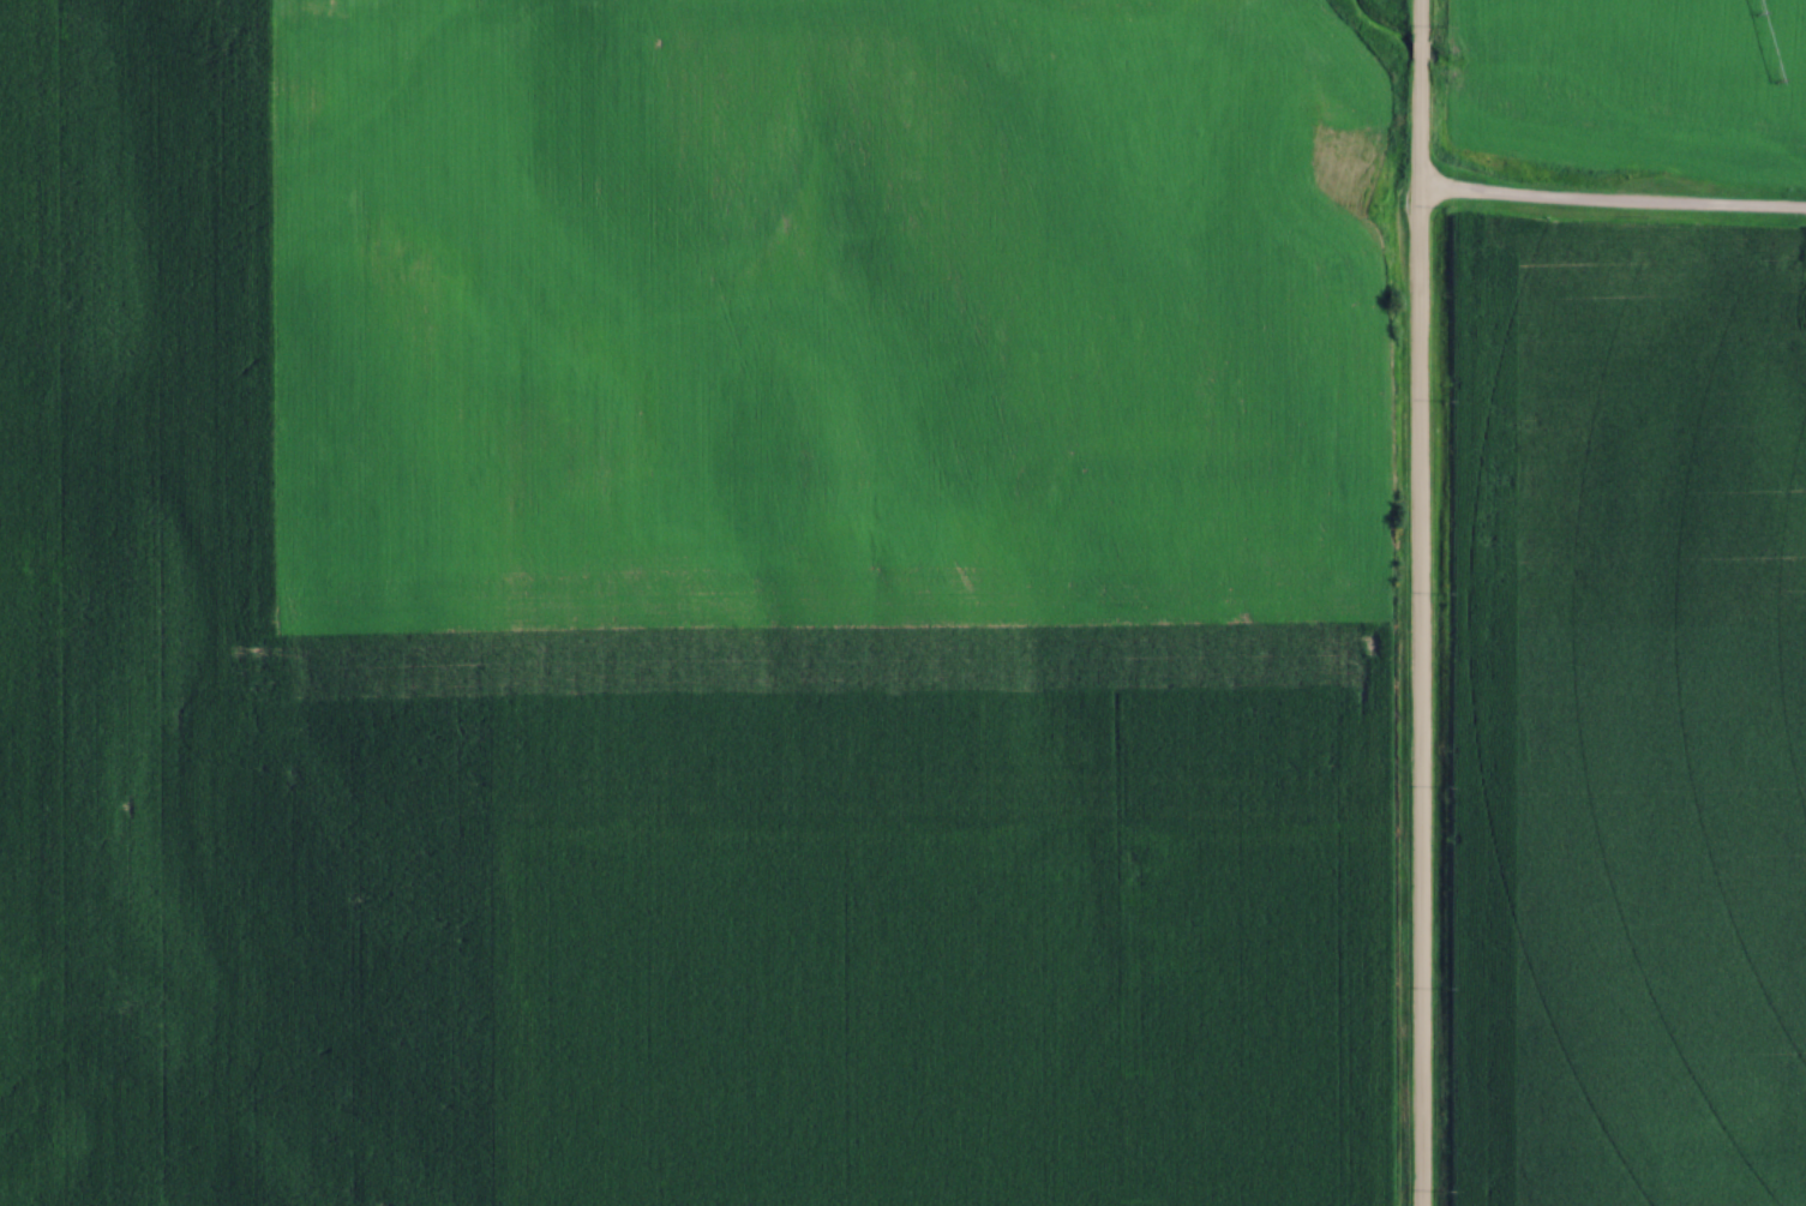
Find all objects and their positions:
road: (1612, 210)
road: (1418, 602)

